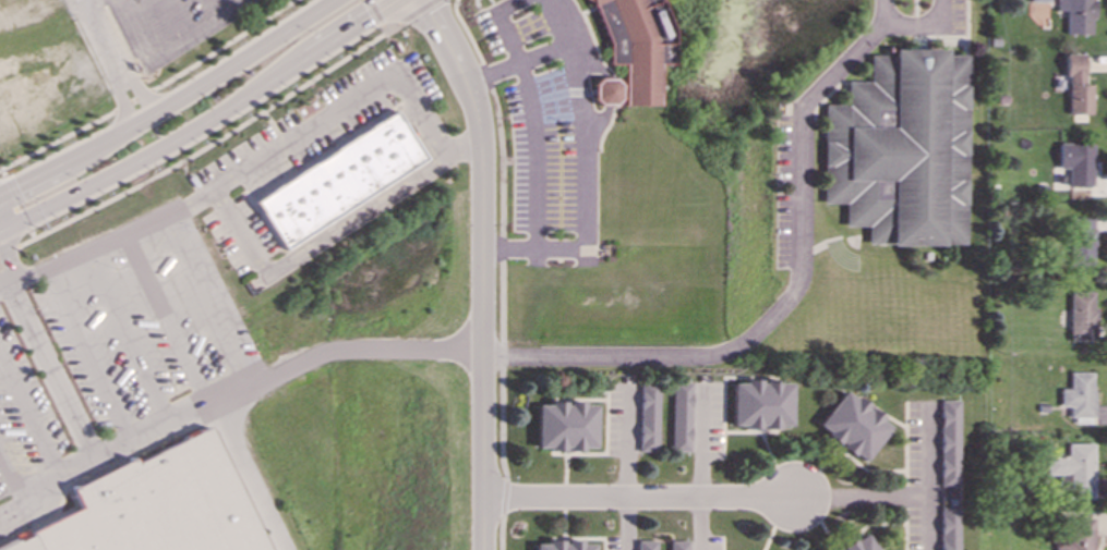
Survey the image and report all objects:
building: (1039, 1)
road: (418, 11)
road: (375, 16)
building: (1078, 16)
road: (555, 22)
road: (924, 24)
road: (205, 29)
road: (131, 35)
building: (636, 45)
road: (224, 46)
road: (112, 60)
building: (1076, 88)
building: (606, 93)
road: (134, 100)
road: (170, 105)
road: (532, 114)
road: (203, 122)
road: (59, 140)
road: (212, 143)
road: (579, 143)
building: (901, 150)
road: (443, 157)
road: (257, 163)
building: (1076, 163)
building: (339, 180)
traffic signals: (19, 188)
road: (16, 204)
road: (350, 222)
road: (238, 231)
building: (1080, 242)
road: (8, 250)
traffic signals: (1, 261)
road: (484, 268)
road: (4, 269)
road: (2, 278)
road: (2, 282)
road: (789, 294)
road: (208, 304)
road: (502, 311)
building: (1080, 316)
road: (168, 322)
road: (129, 342)
road: (89, 359)
road: (50, 371)
road: (276, 377)
building: (1078, 395)
building: (759, 405)
building: (678, 417)
building: (646, 418)
road: (32, 421)
building: (563, 427)
building: (852, 427)
building: (947, 443)
road: (113, 454)
road: (625, 468)
building: (1074, 469)
road: (12, 484)
road: (636, 500)
road: (900, 500)
building: (157, 505)
road: (699, 525)
road: (925, 525)
building: (948, 528)
building: (1074, 535)
building: (861, 545)
building: (563, 546)
building: (676, 546)

